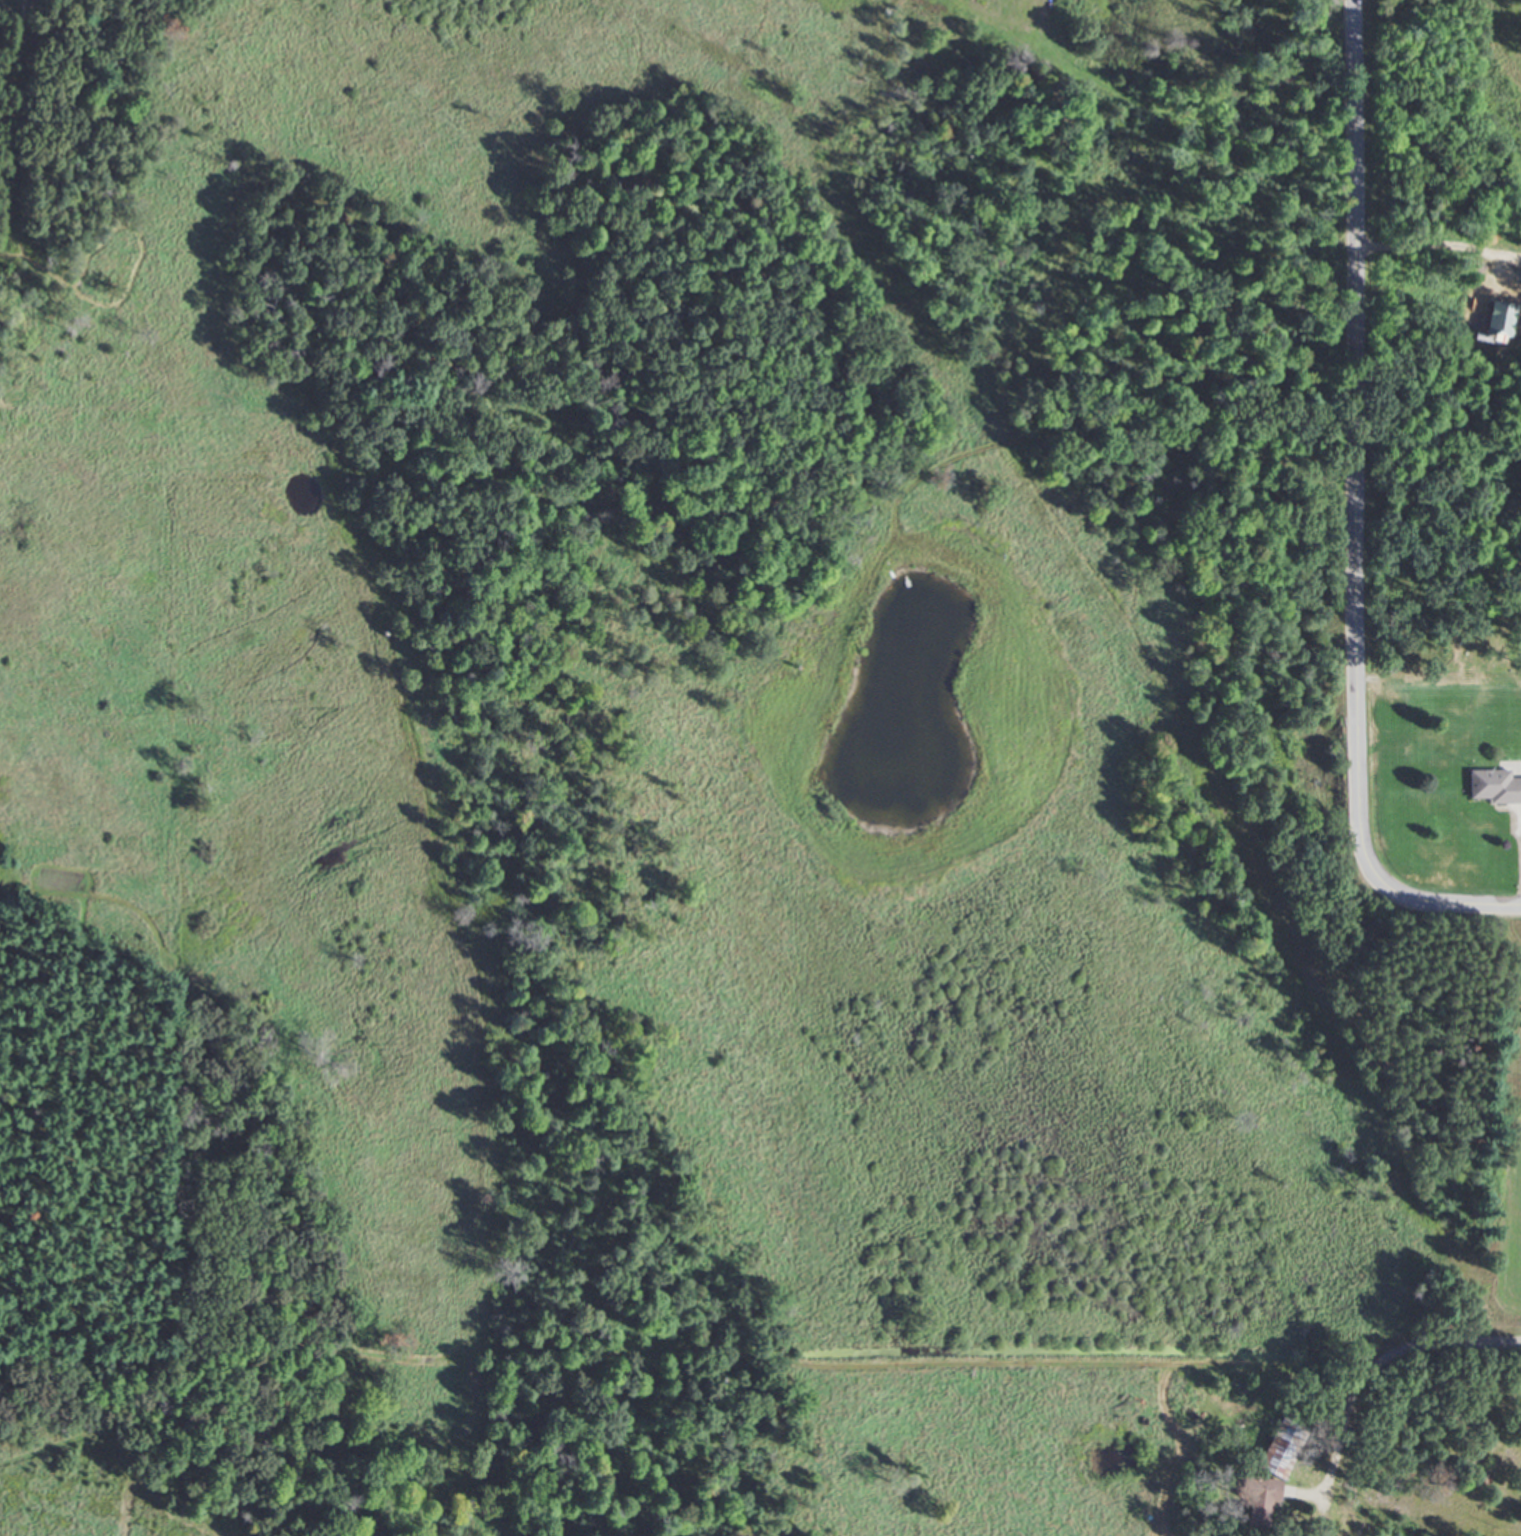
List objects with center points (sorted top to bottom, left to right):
road: (1354, 519)
building: (1490, 787)
road: (1387, 1358)
building: (1255, 1506)

